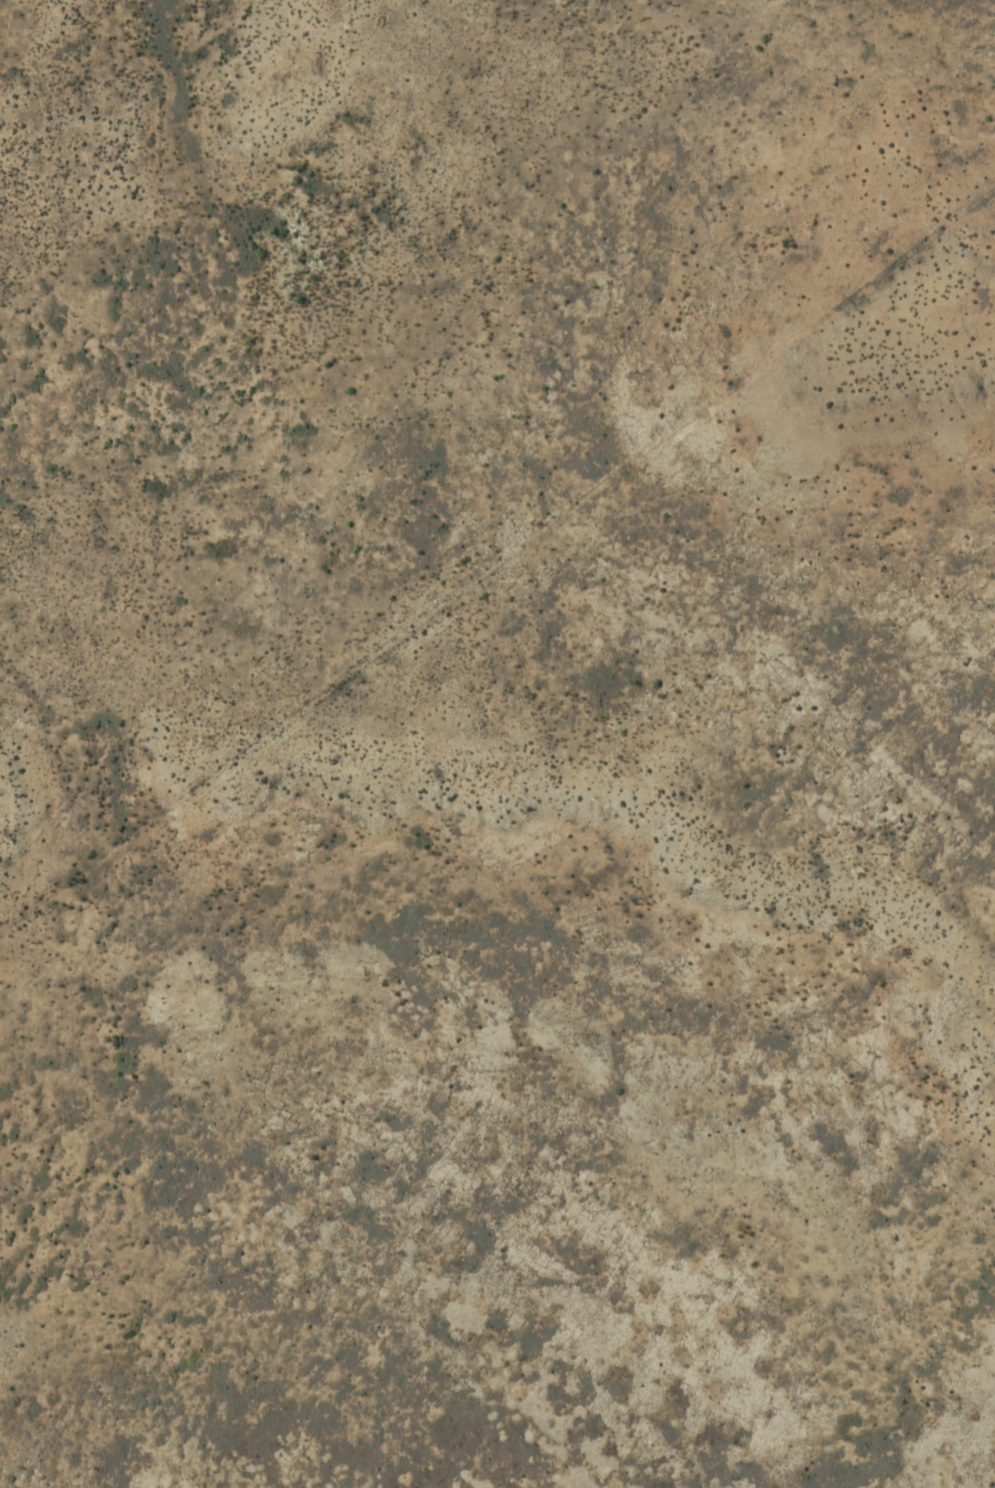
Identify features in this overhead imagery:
road: (500, 571)

